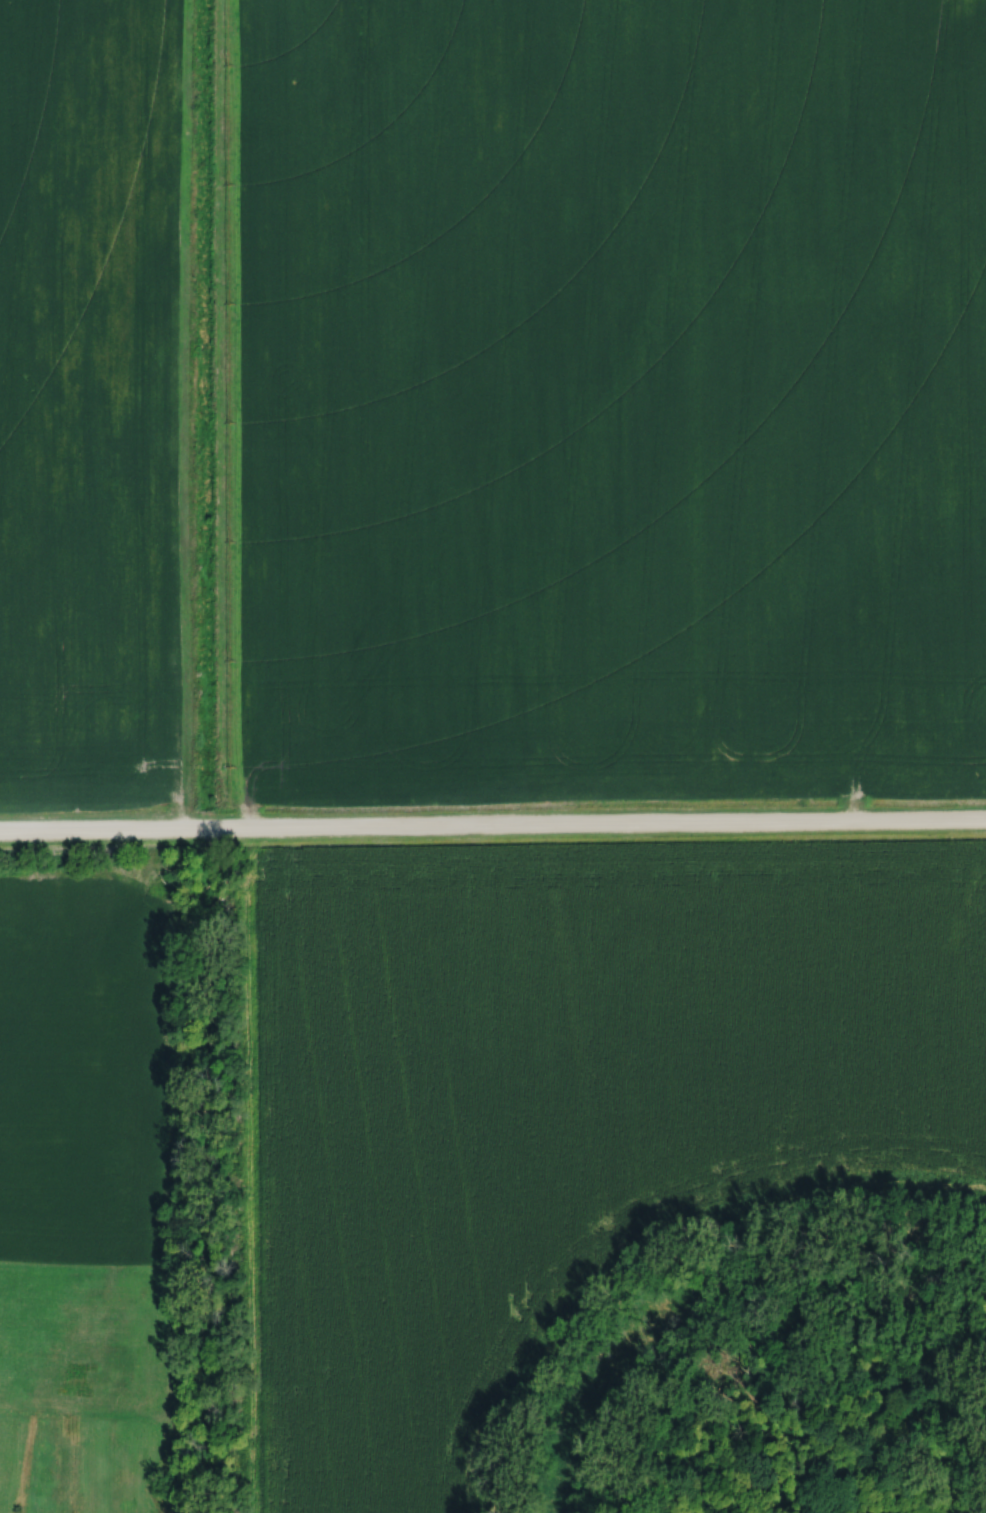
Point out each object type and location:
crop: (90, 401)
crop: (611, 401)
road: (493, 822)
crop: (86, 1054)
crop: (559, 1108)

